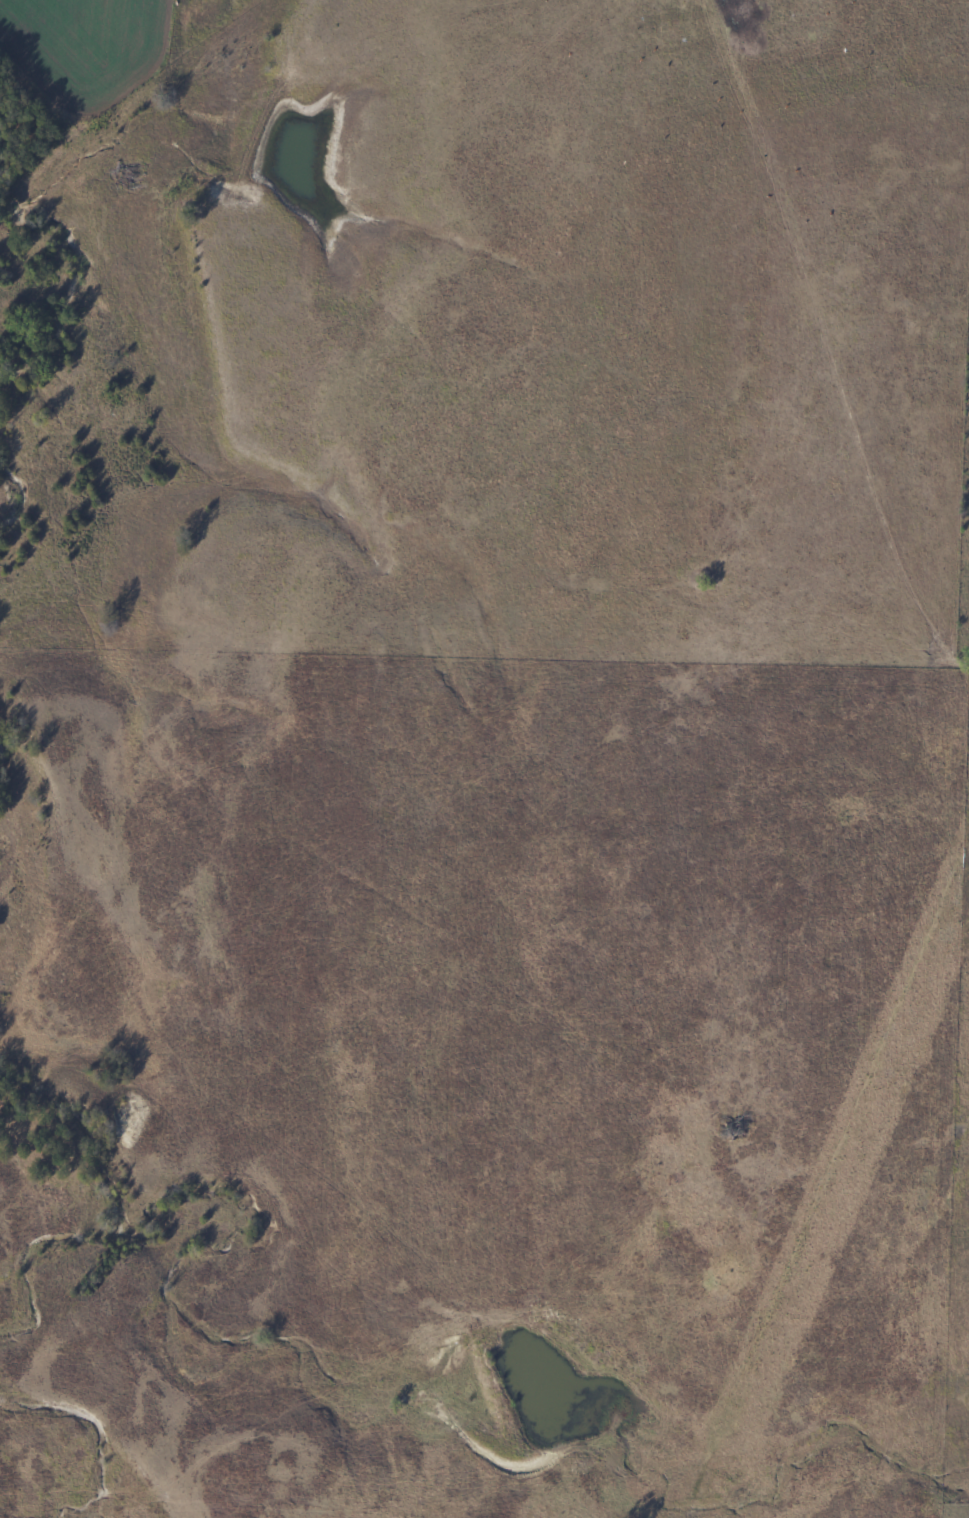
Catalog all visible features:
road: (756, 1139)

